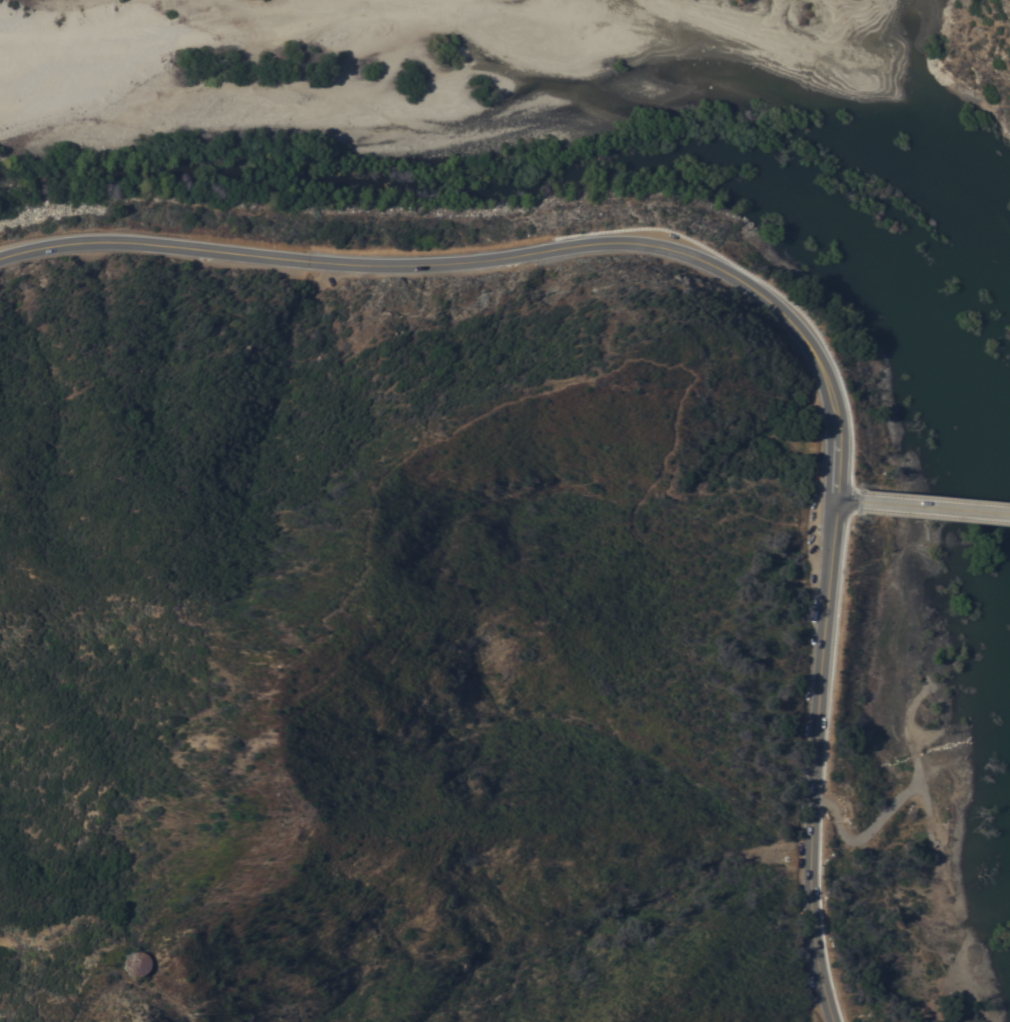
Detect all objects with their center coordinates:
road: (185, 14)
road: (683, 32)
river: (548, 177)
road: (500, 251)
road: (845, 500)
road: (933, 508)
road: (816, 761)
road: (925, 813)
road: (874, 827)
building: (134, 962)
road: (76, 1002)

